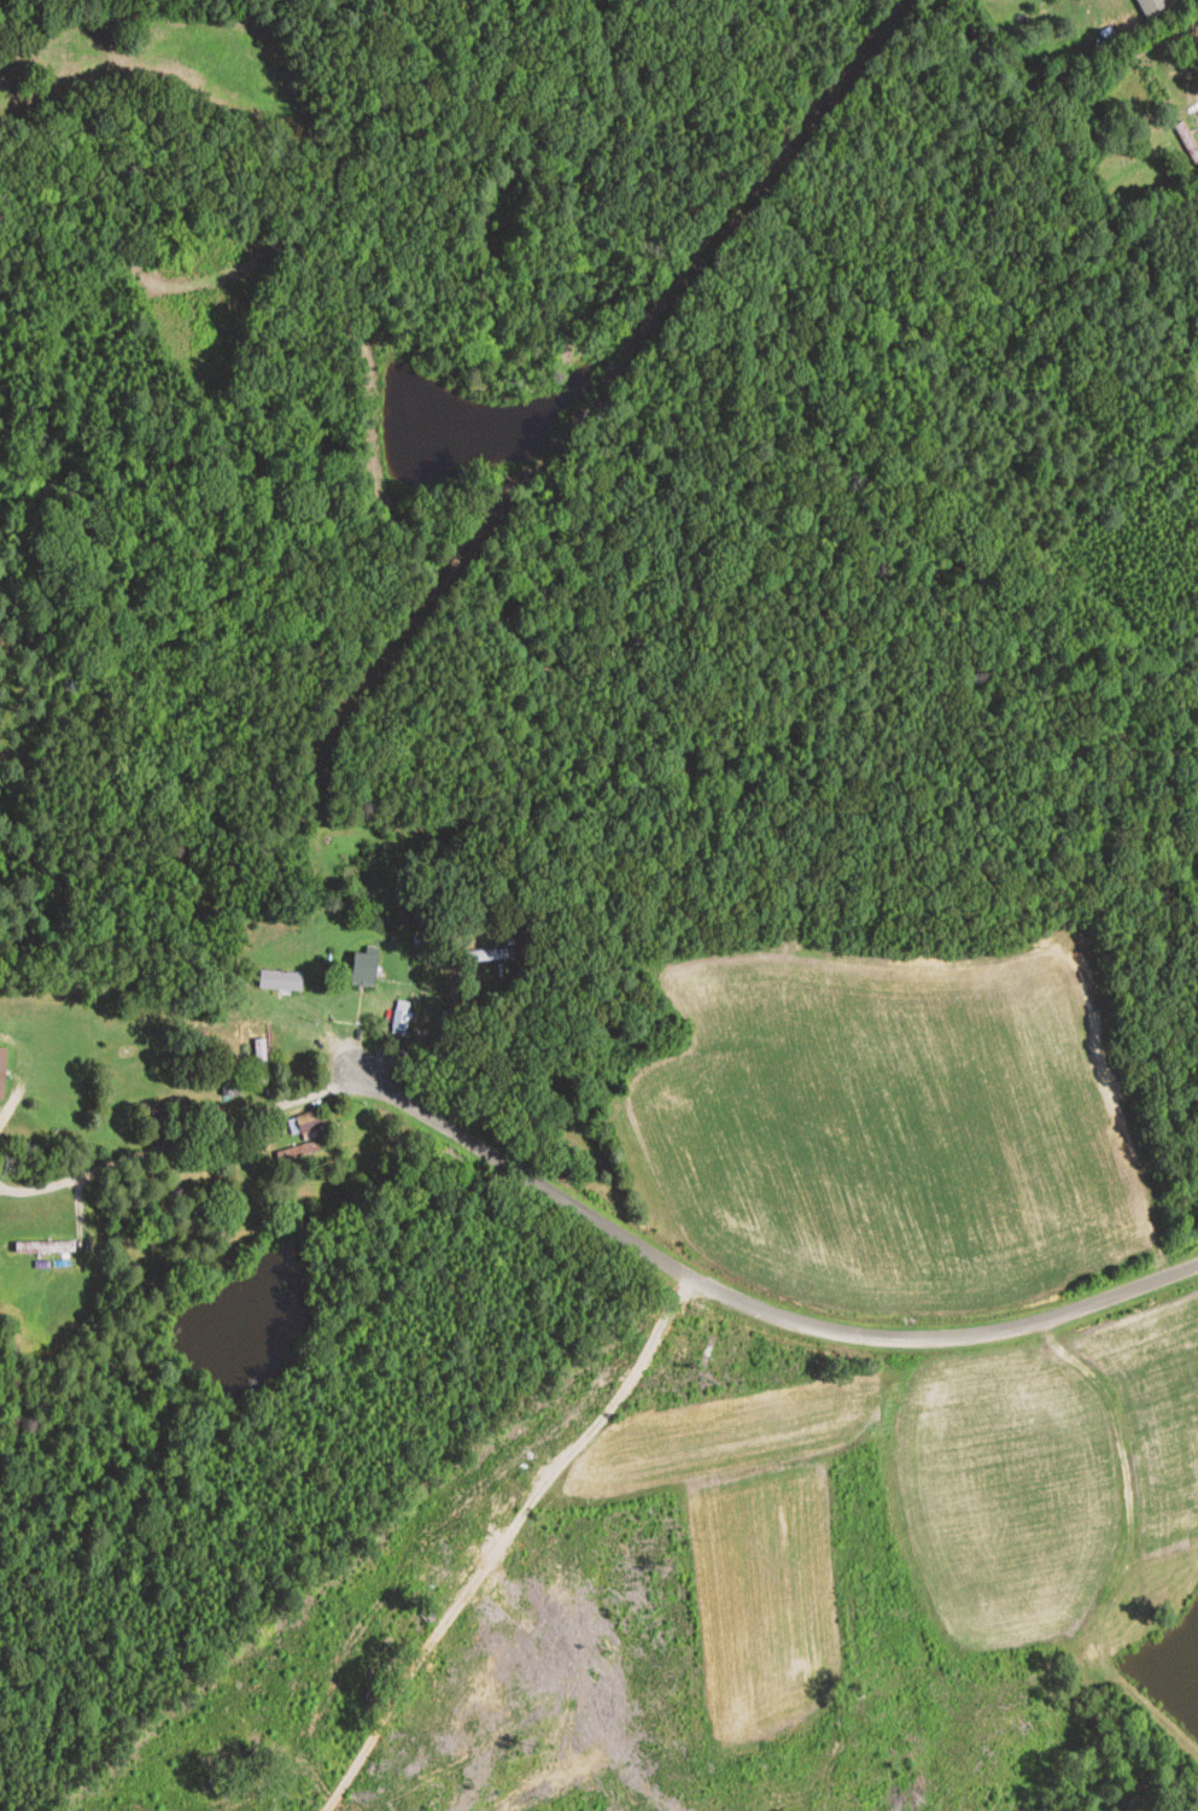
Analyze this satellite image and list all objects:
building: (1150, 6)
road: (346, 70)
building: (1149, 78)
building: (1187, 141)
building: (490, 956)
building: (361, 969)
building: (279, 981)
building: (259, 1062)
building: (1, 1071)
building: (153, 1115)
building: (306, 1122)
building: (42, 1248)
road: (746, 1304)
road: (496, 1537)

